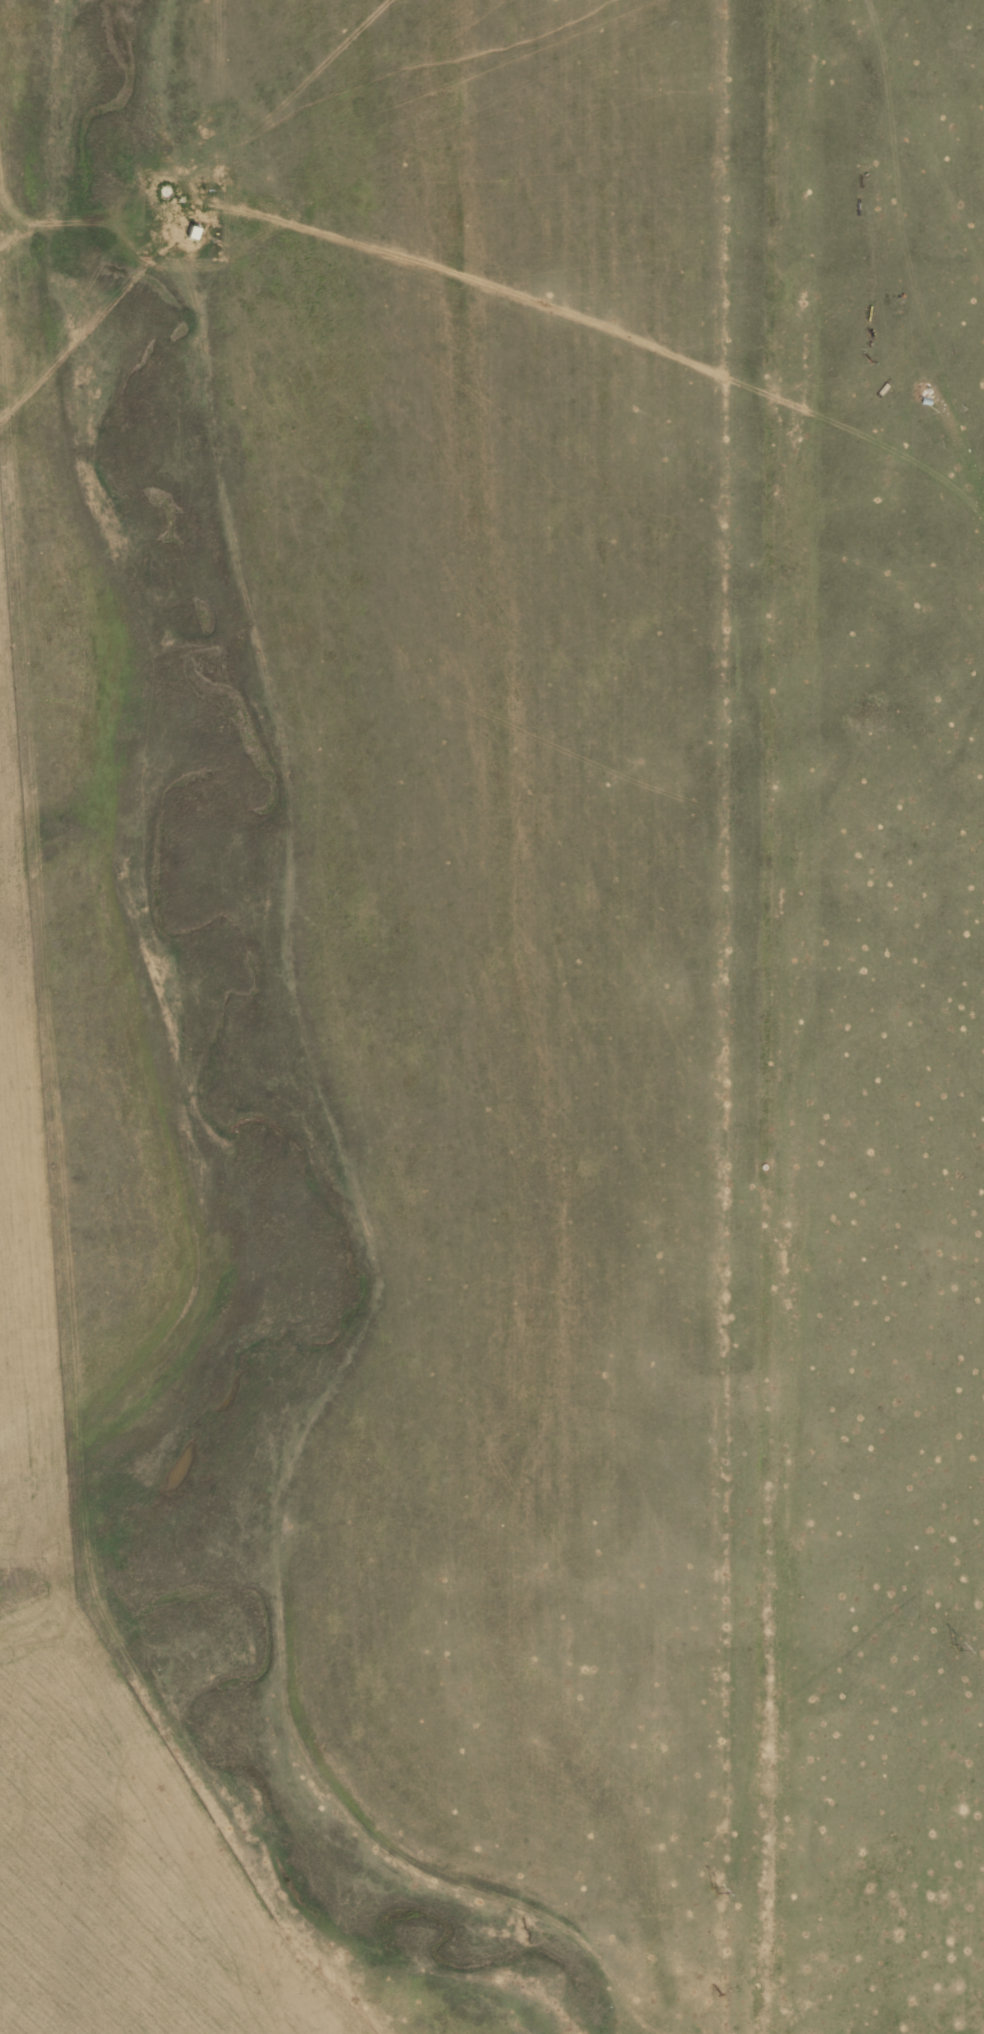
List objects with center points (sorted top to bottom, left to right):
power tower: (954, 1646)
power tower: (713, 1890)

